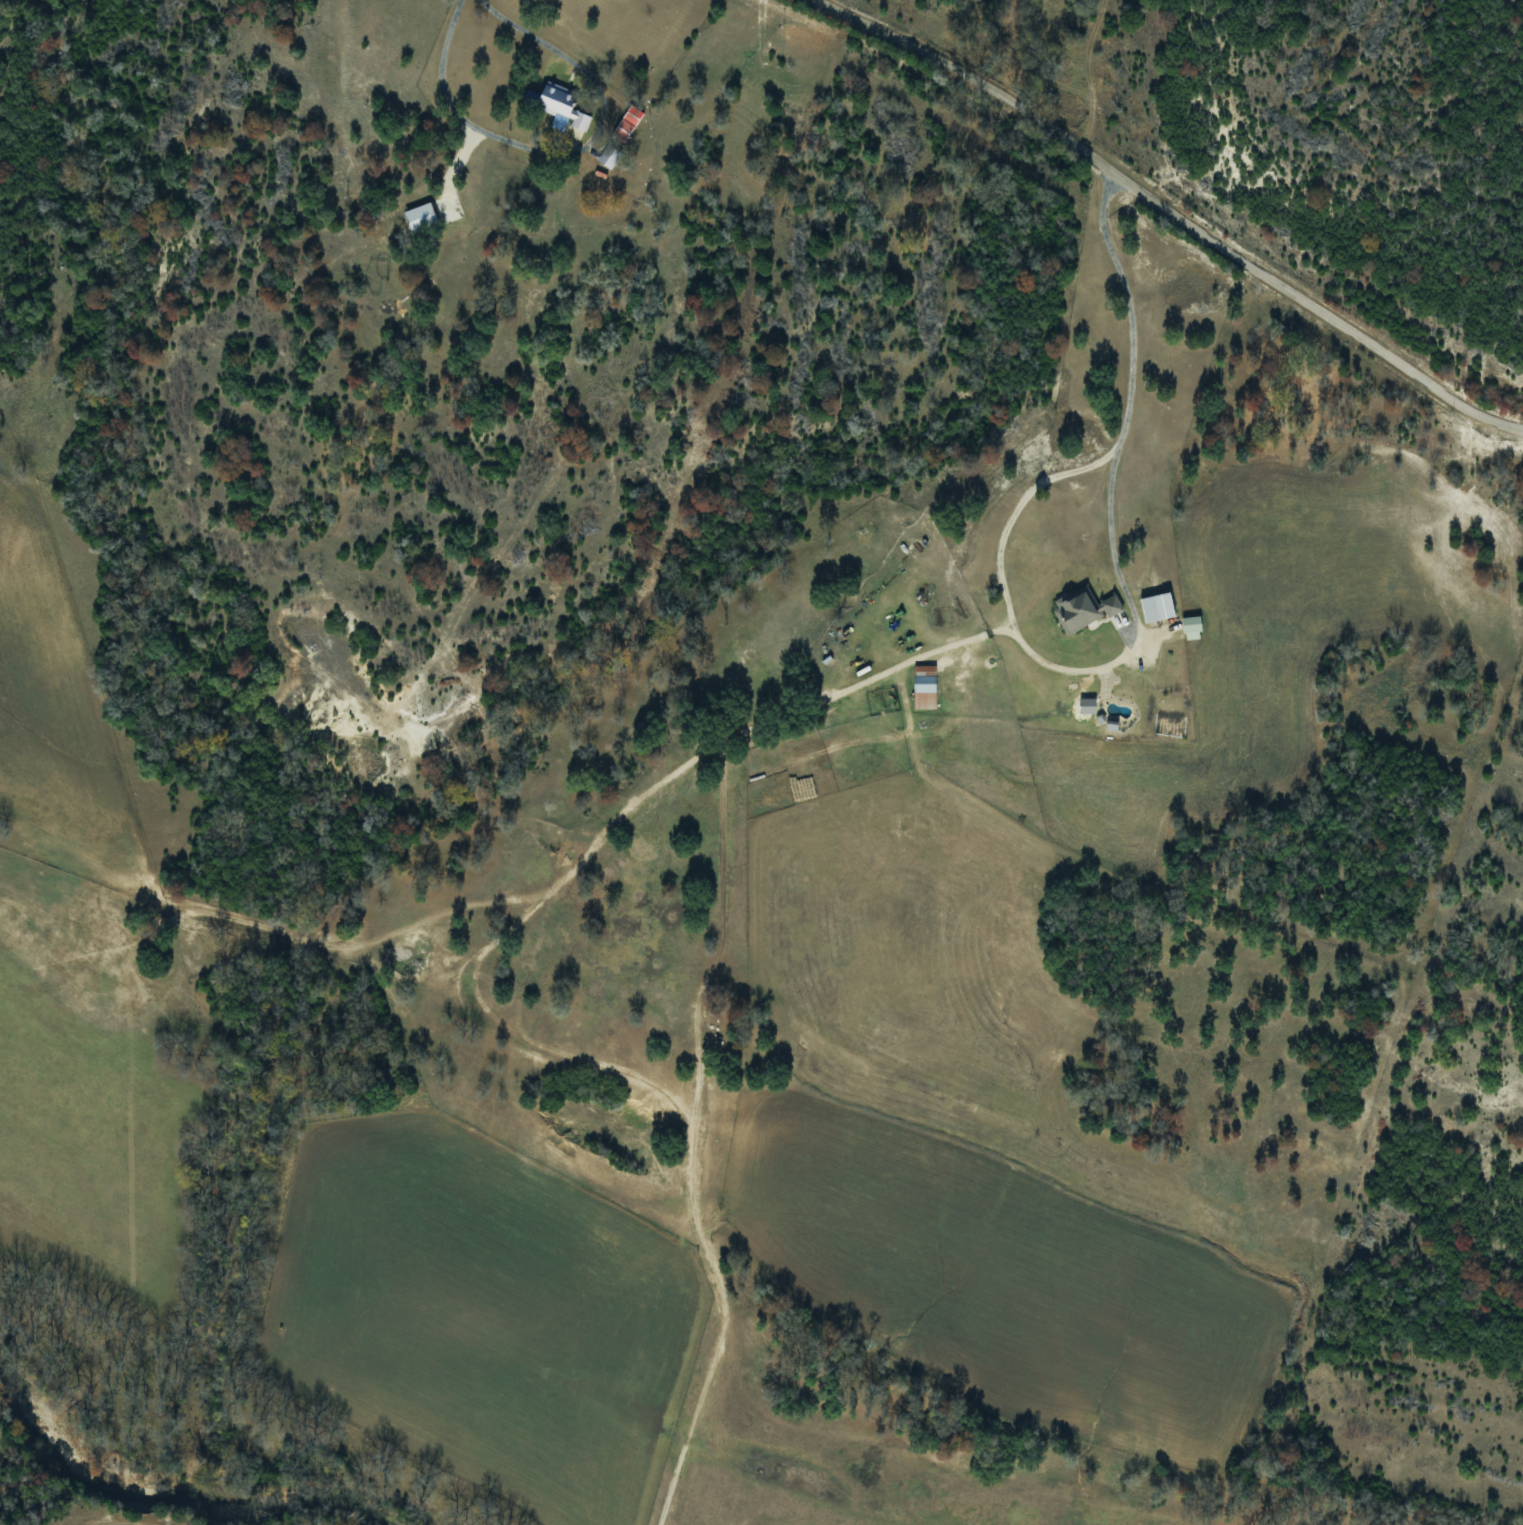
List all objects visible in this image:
building: (562, 105)
building: (623, 130)
building: (610, 156)
road: (1179, 216)
building: (1158, 607)
building: (1089, 610)
building: (925, 687)

